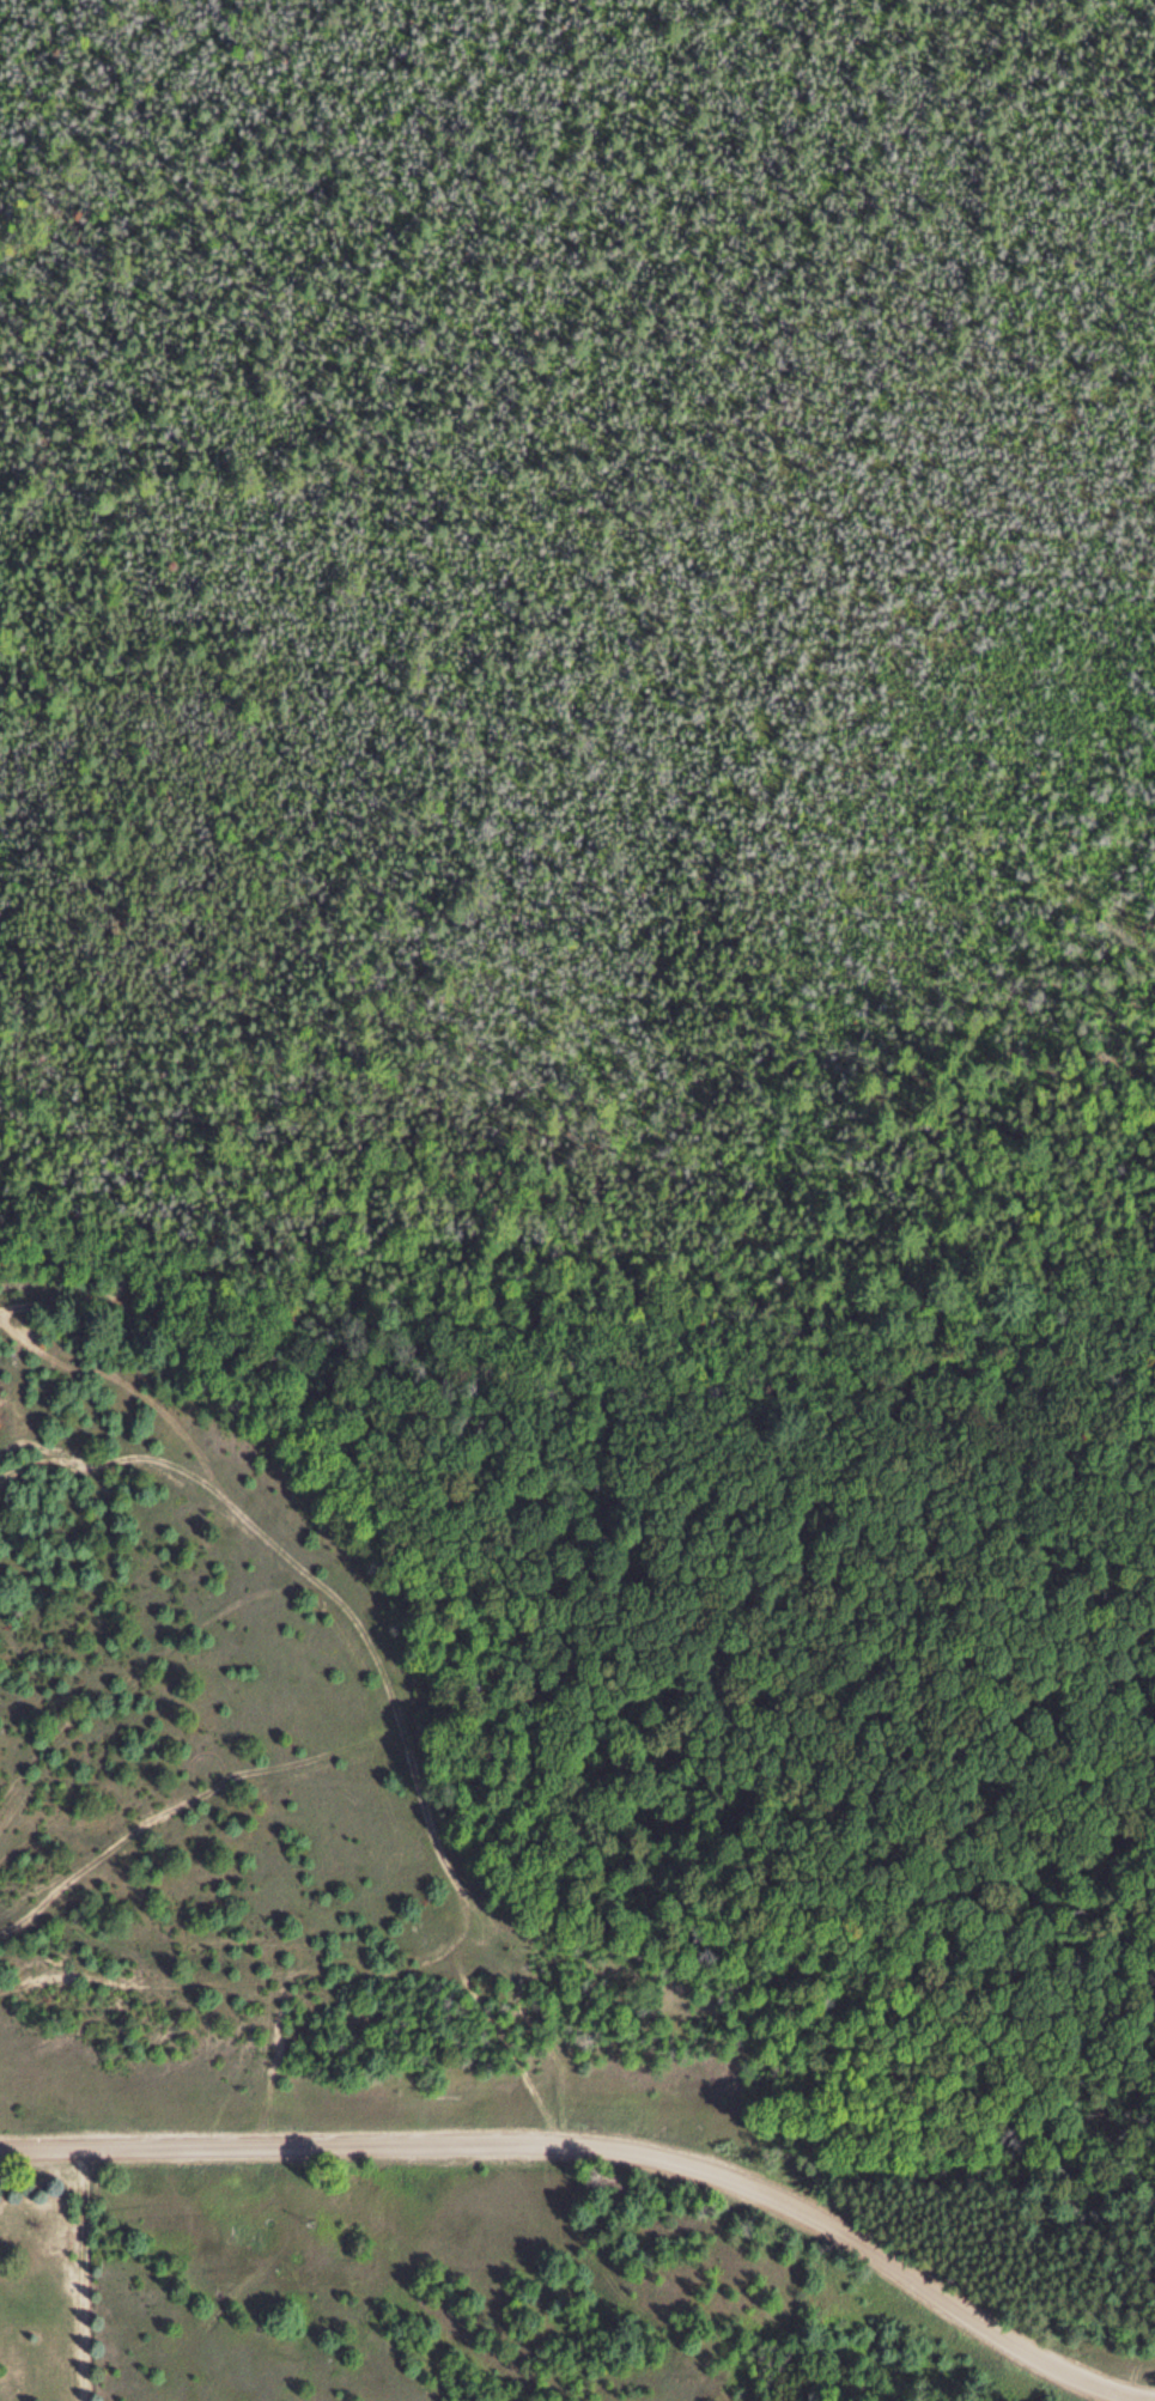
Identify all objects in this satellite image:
road: (60, 1299)
road: (601, 2146)

